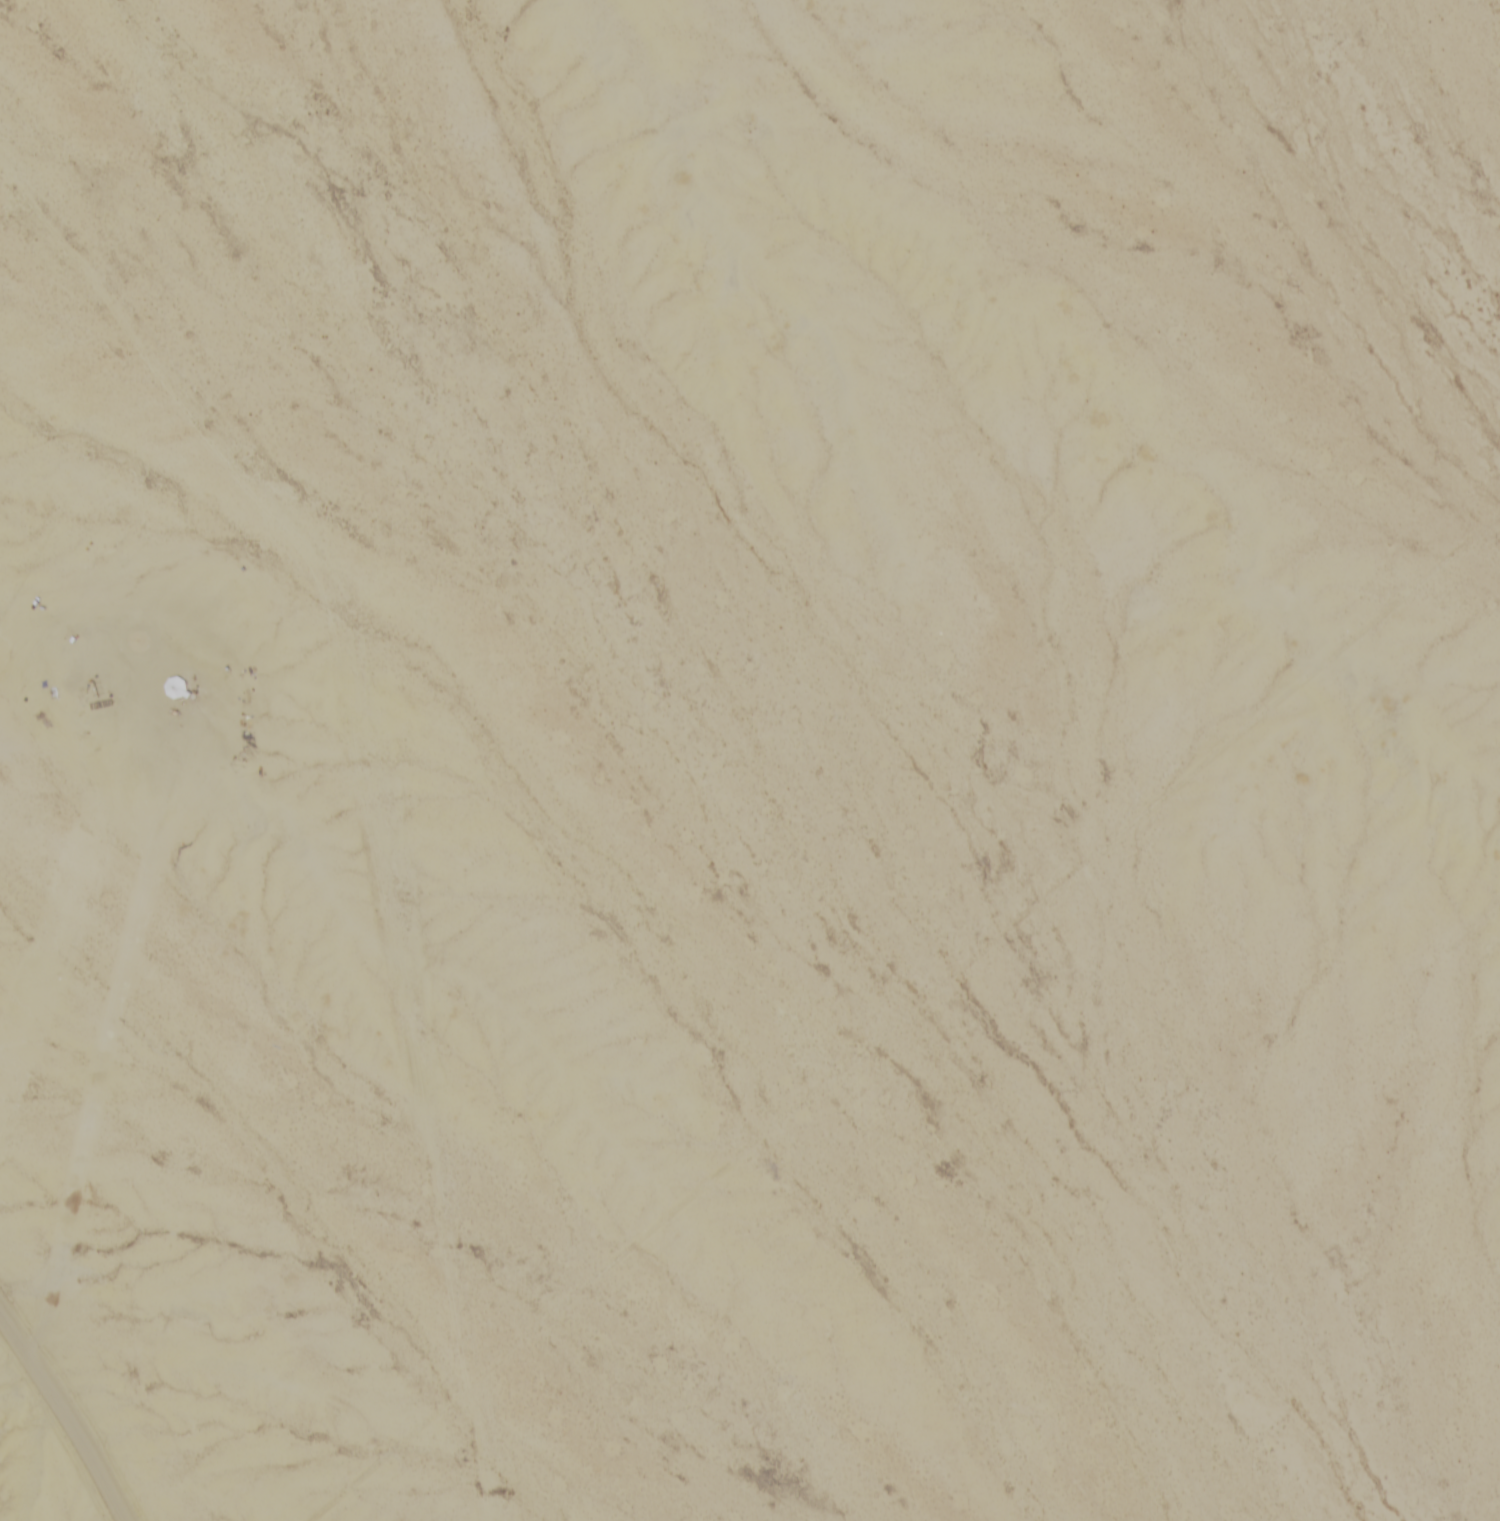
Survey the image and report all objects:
road: (60, 1420)

